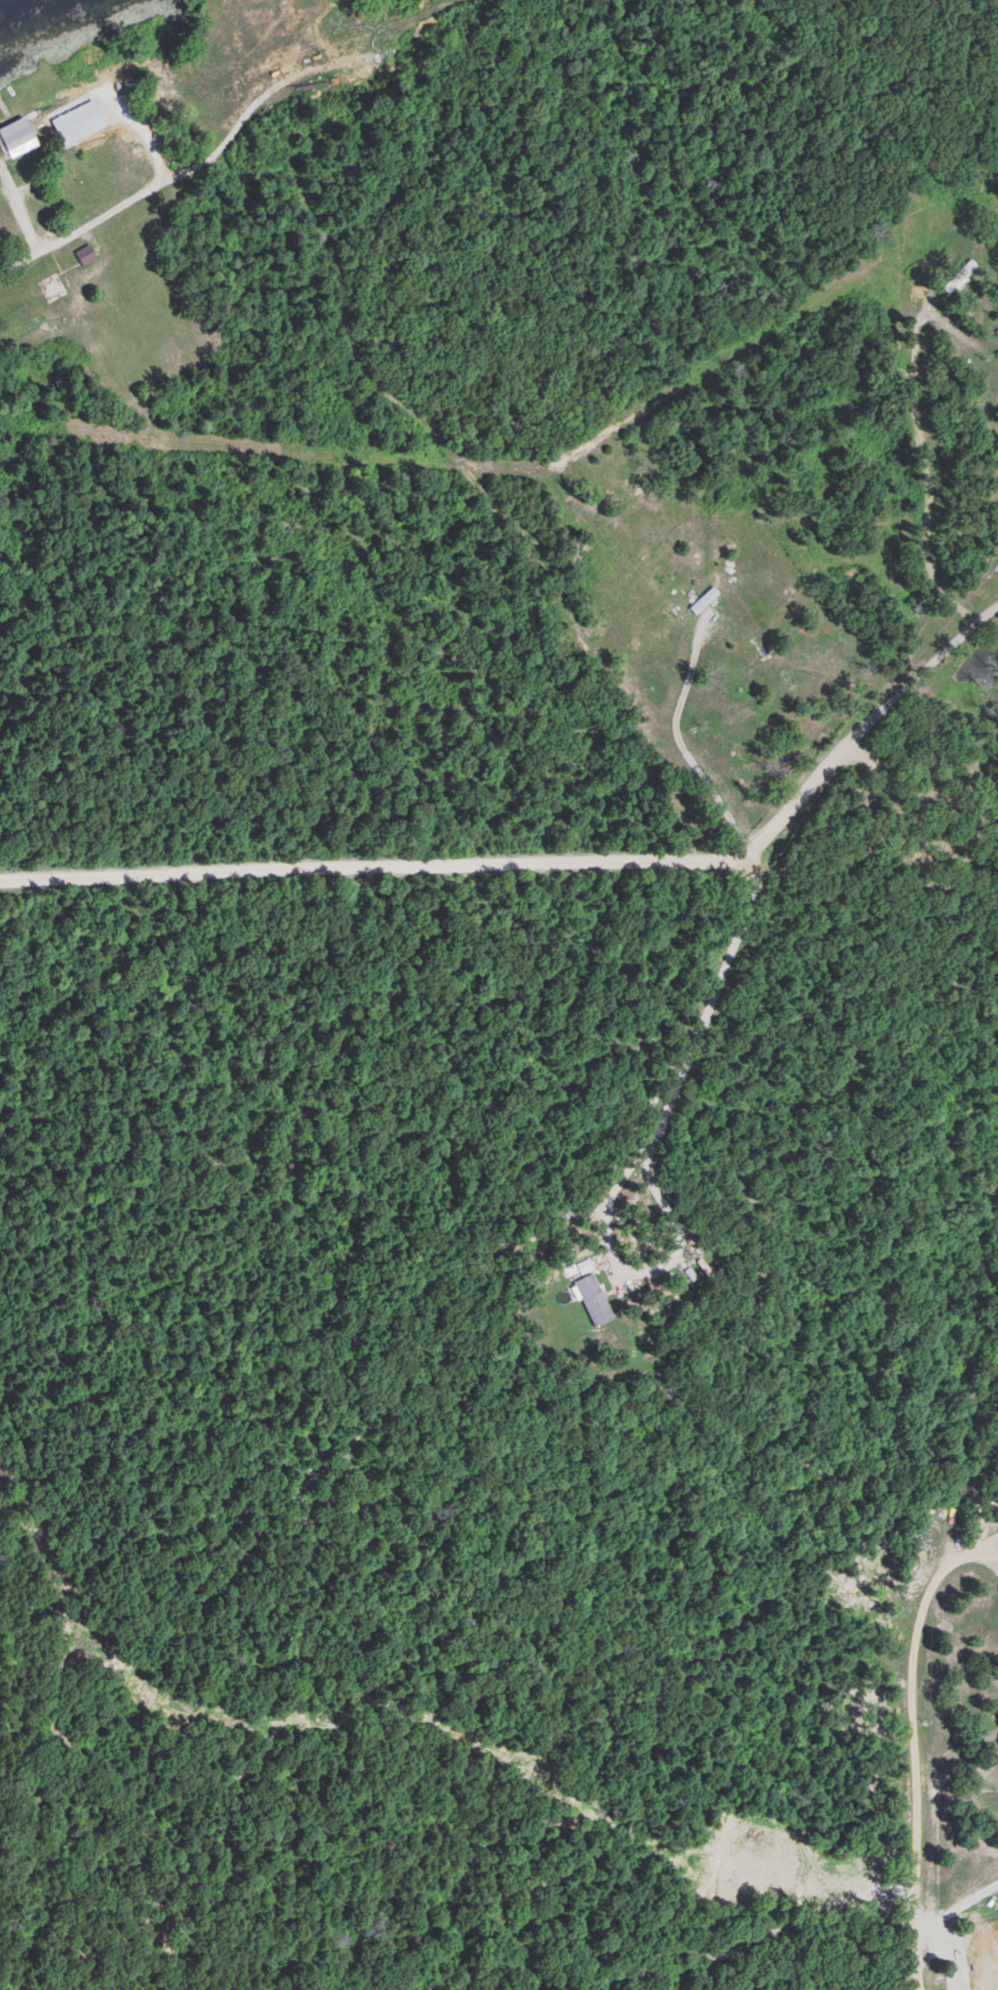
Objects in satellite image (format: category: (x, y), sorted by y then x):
building: (311, 55)
building: (279, 66)
building: (61, 120)
building: (16, 138)
road: (171, 180)
building: (84, 256)
building: (958, 277)
road: (688, 343)
road: (472, 435)
road: (923, 475)
road: (753, 611)
road: (858, 720)
park: (937, 821)
road: (363, 859)
building: (586, 1299)
road: (913, 1740)

